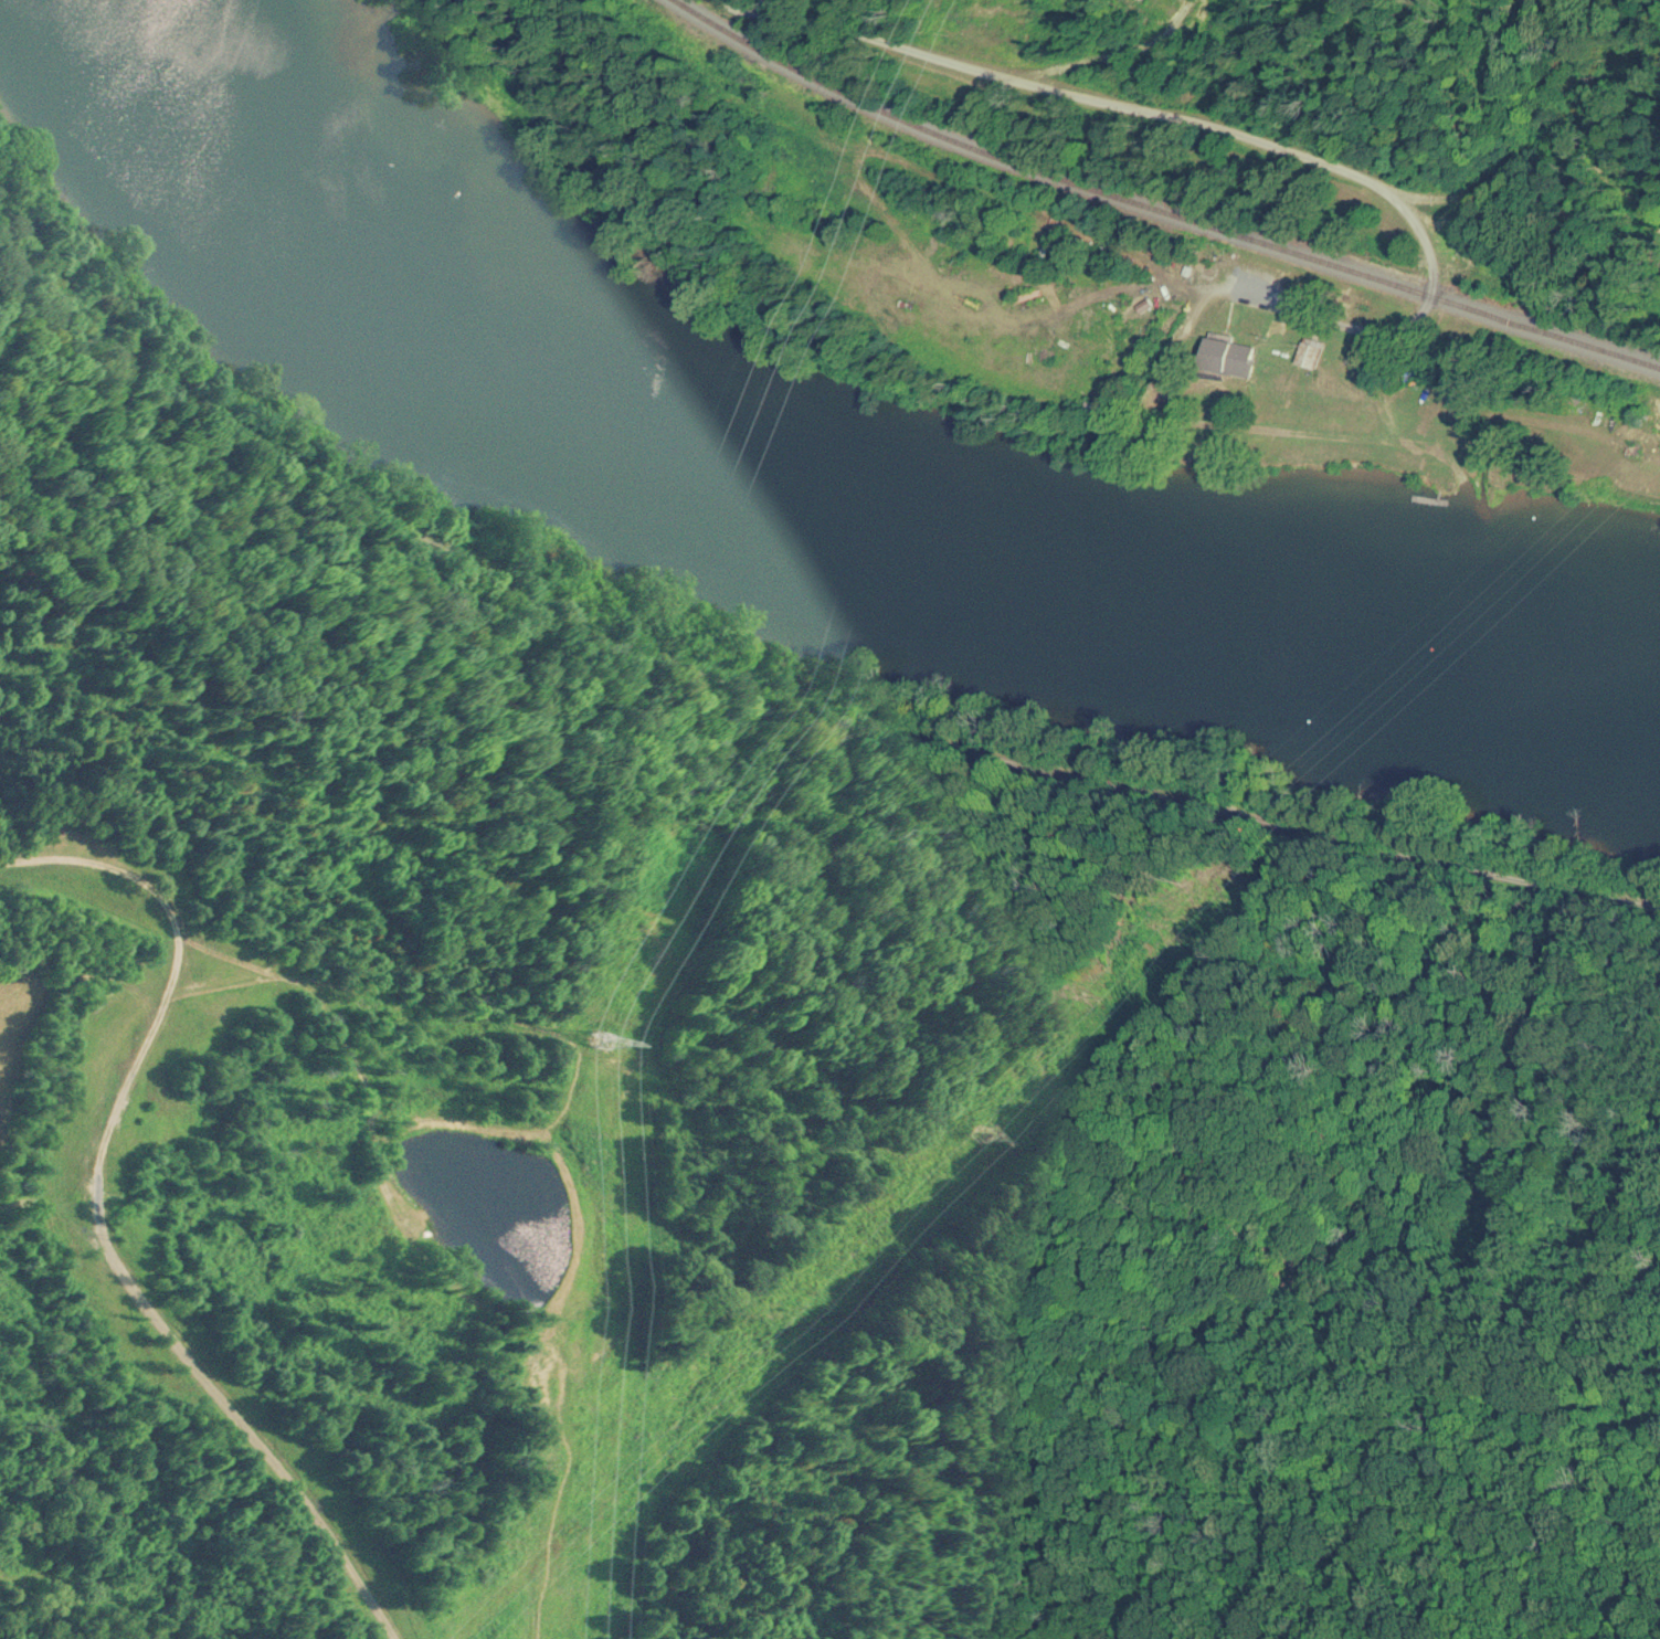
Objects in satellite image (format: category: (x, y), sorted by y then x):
road: (1044, 57)
road: (1204, 125)
railway: (1162, 209)
building: (1309, 352)
building: (1225, 356)
river: (827, 464)
road: (764, 688)
power tower: (585, 1056)
power tower: (699, 1373)
road: (23, 1557)

